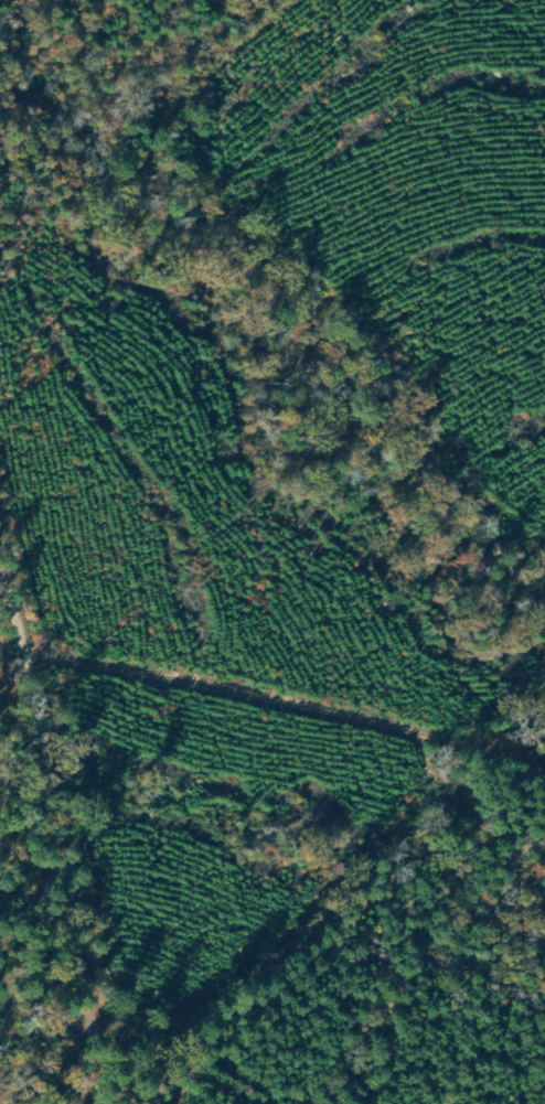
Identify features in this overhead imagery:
road: (3, 617)
road: (276, 697)
road: (84, 875)
road: (473, 894)
road: (46, 1028)
road: (50, 1098)

